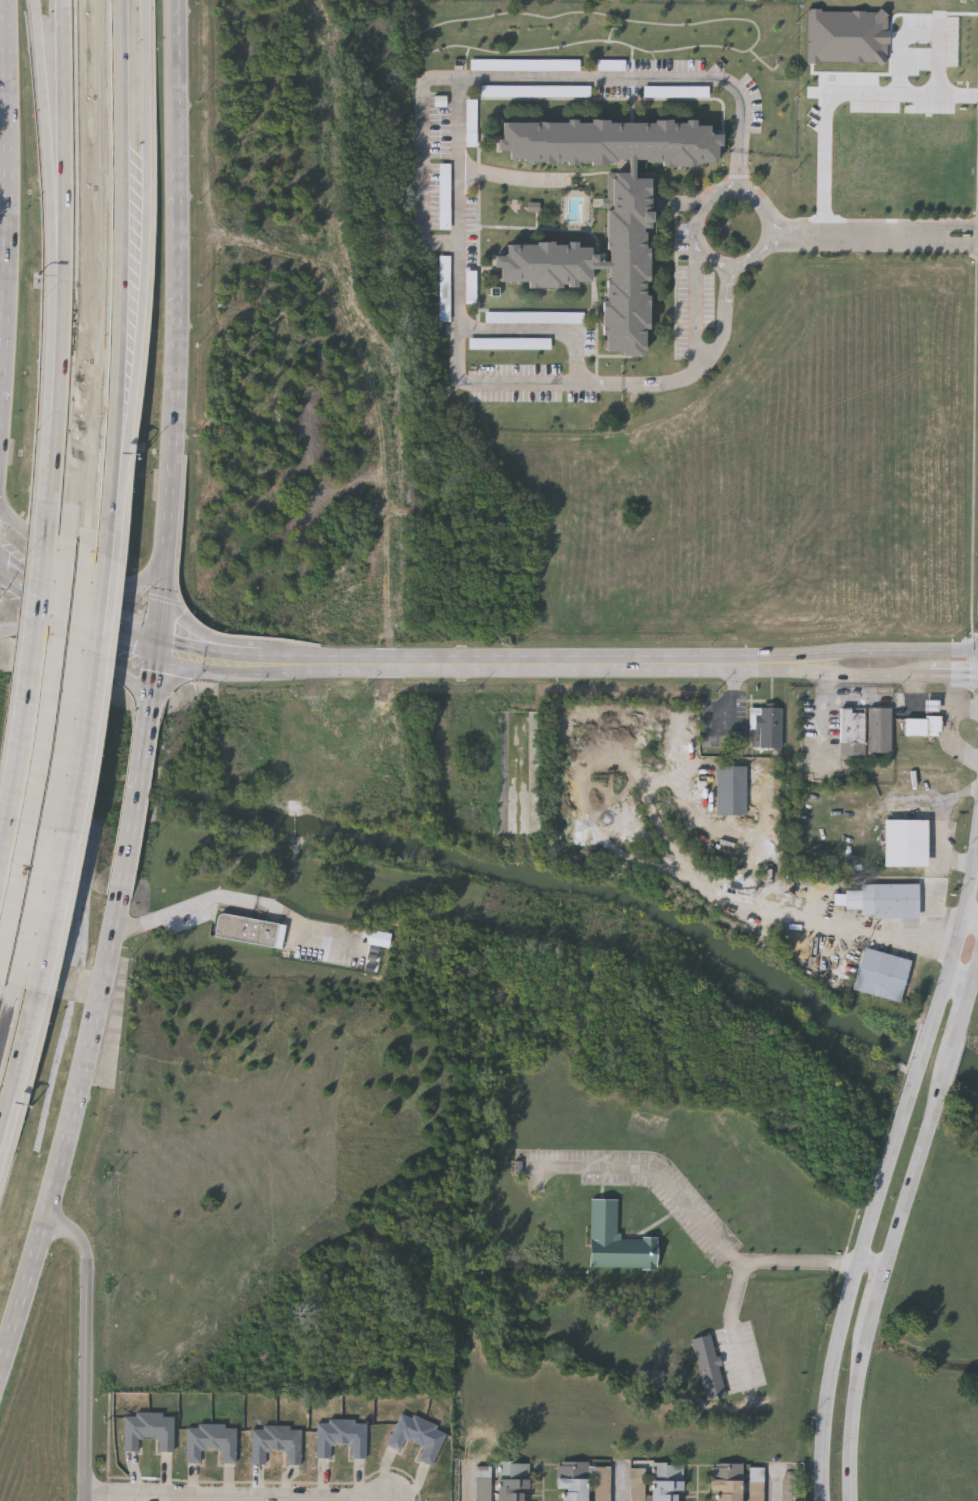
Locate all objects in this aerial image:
road: (920, 34)
building: (525, 66)
road: (3, 73)
building: (536, 92)
road: (834, 95)
building: (471, 124)
road: (50, 163)
road: (65, 164)
road: (467, 168)
road: (4, 171)
road: (732, 193)
building: (445, 198)
road: (459, 205)
road: (423, 208)
building: (606, 211)
road: (873, 237)
road: (123, 243)
road: (146, 245)
road: (2, 252)
building: (471, 289)
building: (445, 290)
road: (172, 323)
road: (541, 329)
building: (509, 345)
road: (0, 354)
road: (55, 426)
road: (106, 521)
road: (84, 572)
road: (45, 596)
road: (223, 638)
traffic signals: (159, 646)
road: (866, 649)
road: (88, 661)
road: (422, 664)
road: (866, 674)
road: (27, 675)
road: (153, 687)
road: (730, 698)
road: (823, 718)
building: (852, 721)
building: (921, 724)
building: (765, 725)
road: (68, 774)
building: (730, 788)
road: (132, 814)
building: (905, 840)
road: (976, 862)
building: (884, 898)
road: (258, 902)
road: (174, 914)
road: (971, 914)
road: (959, 929)
building: (250, 932)
road: (887, 933)
building: (881, 972)
road: (961, 976)
road: (967, 995)
road: (923, 1052)
road: (946, 1060)
road: (16, 1063)
road: (65, 1129)
road: (911, 1177)
road: (710, 1233)
building: (617, 1240)
road: (849, 1287)
road: (876, 1297)
road: (731, 1316)
park: (933, 1320)
park: (936, 1338)
road: (84, 1346)
building: (709, 1366)
road: (727, 1409)
road: (853, 1414)
building: (149, 1431)
building: (418, 1436)
building: (341, 1437)
building: (211, 1441)
building: (276, 1443)
building: (637, 1474)
building: (513, 1481)
building: (573, 1481)
building: (666, 1481)
building: (726, 1482)
road: (470, 1483)
road: (625, 1484)
road: (782, 1485)
building: (755, 1490)
road: (237, 1496)

